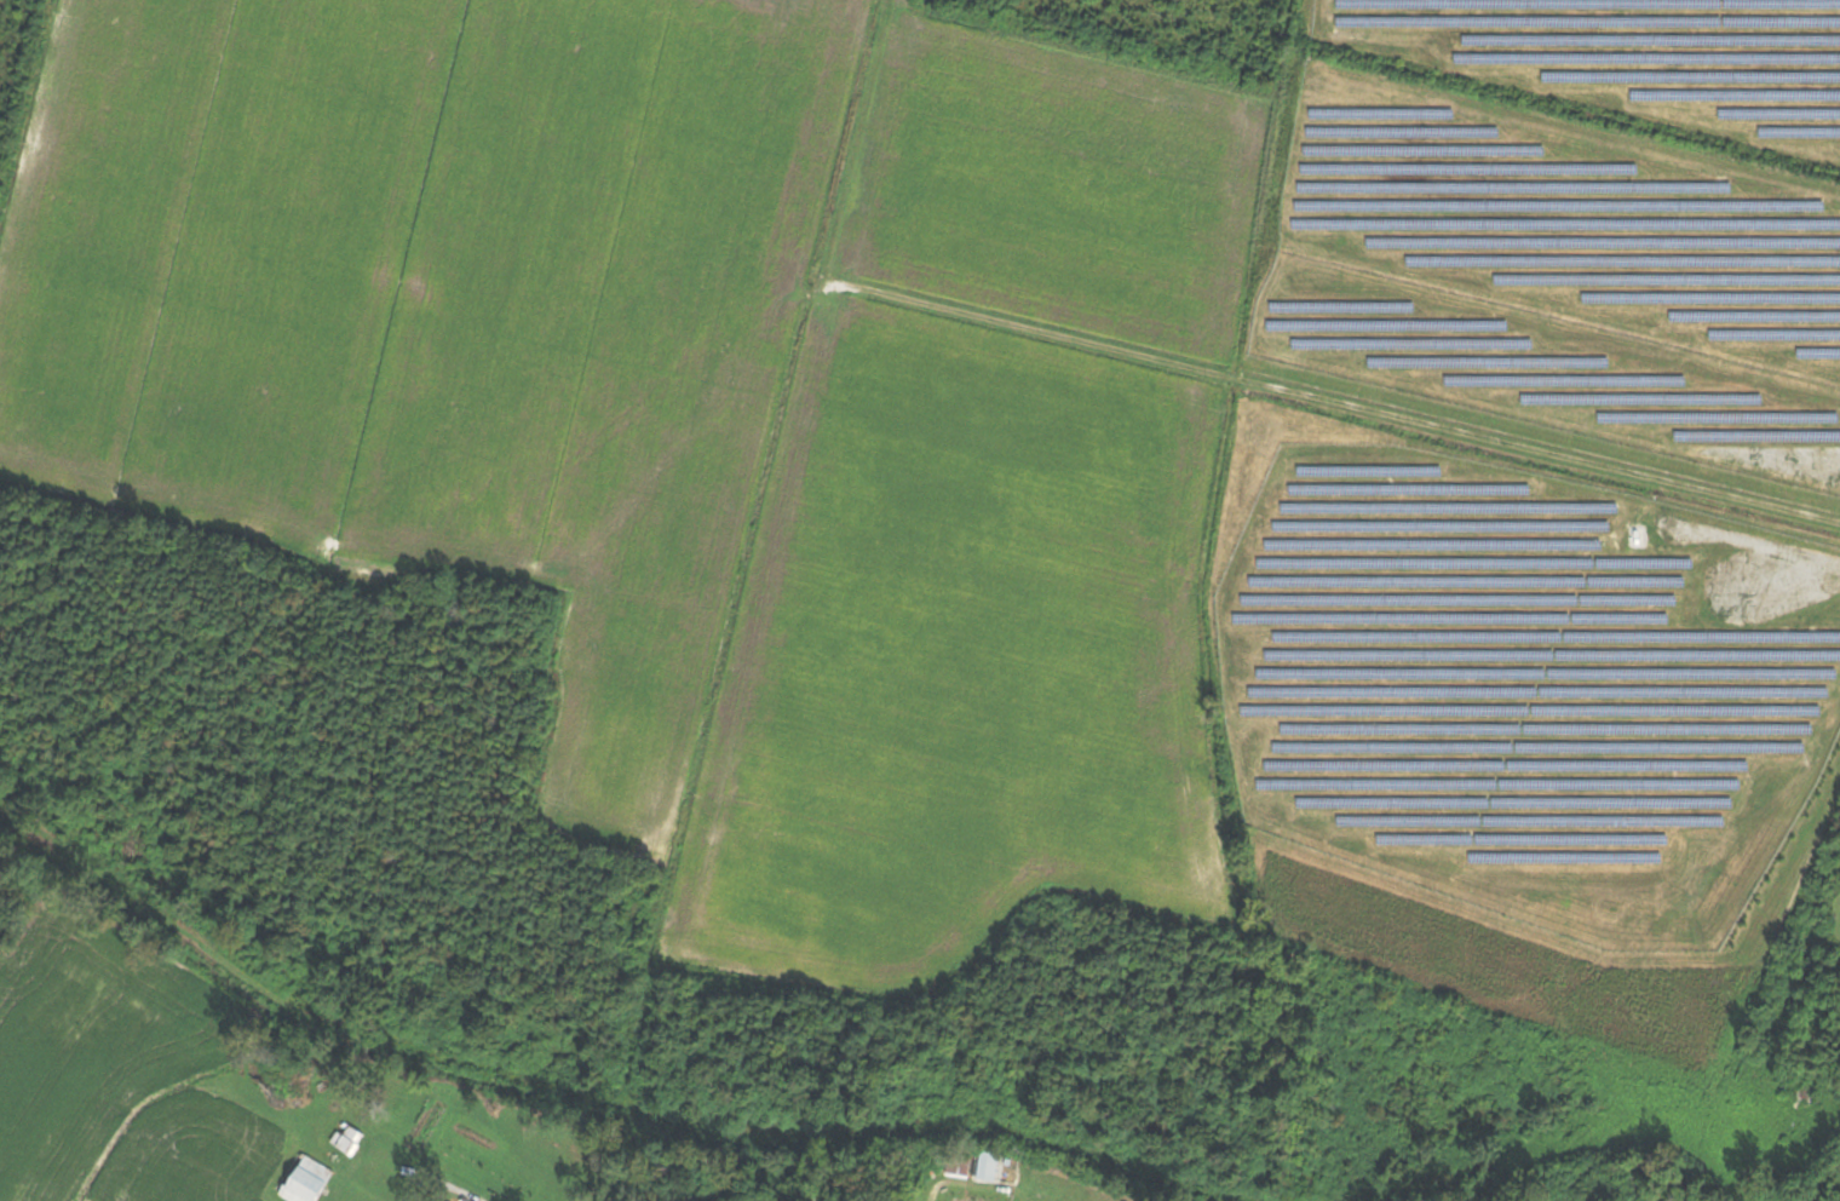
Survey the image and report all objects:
building: (347, 1138)
building: (961, 1166)
building: (989, 1166)
building: (310, 1182)
road: (935, 1188)

